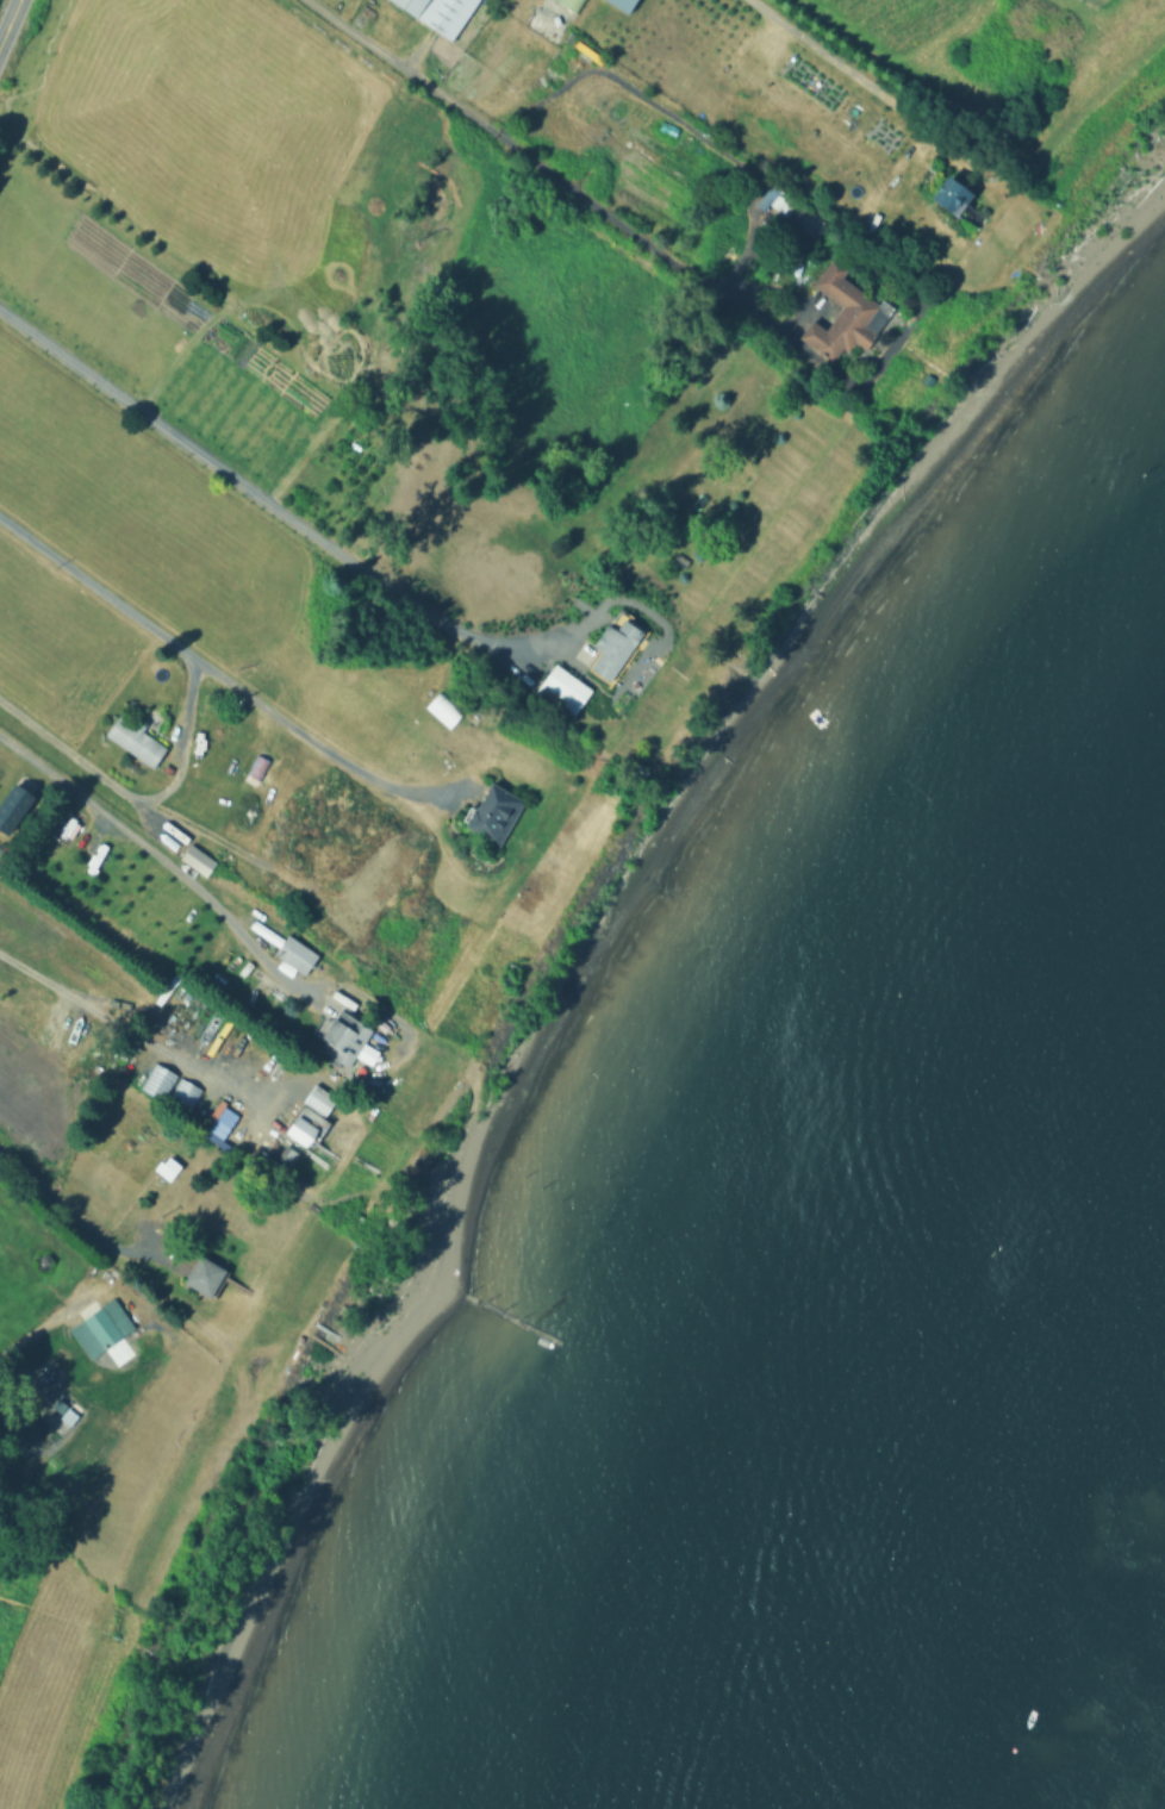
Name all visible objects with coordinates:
building: (571, 4)
building: (621, 4)
building: (443, 13)
road: (10, 21)
crop: (983, 38)
road: (836, 60)
road: (566, 177)
building: (949, 193)
building: (795, 211)
building: (848, 317)
road: (270, 501)
building: (608, 610)
building: (617, 649)
road: (212, 670)
building: (566, 690)
building: (442, 709)
building: (137, 742)
building: (260, 767)
road: (136, 797)
building: (15, 801)
building: (498, 812)
road: (167, 857)
building: (197, 857)
building: (299, 954)
road: (131, 1025)
building: (349, 1030)
building: (169, 1086)
building: (309, 1115)
building: (217, 1122)
building: (285, 1155)
building: (170, 1164)
road: (70, 1211)
building: (210, 1270)
building: (104, 1325)
road: (38, 1329)
building: (62, 1410)

